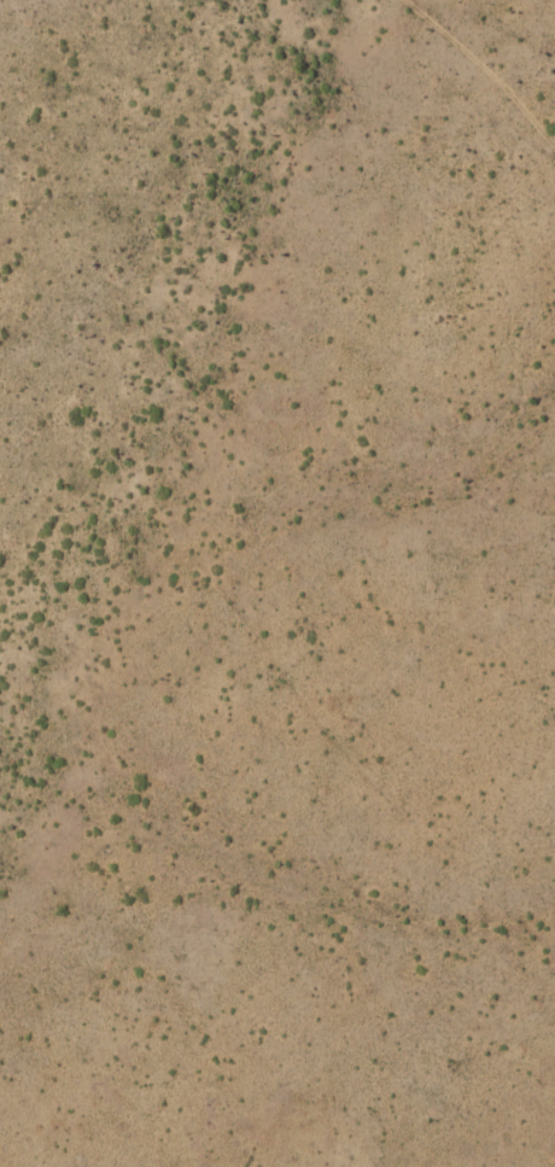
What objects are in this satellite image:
road: (475, 70)

